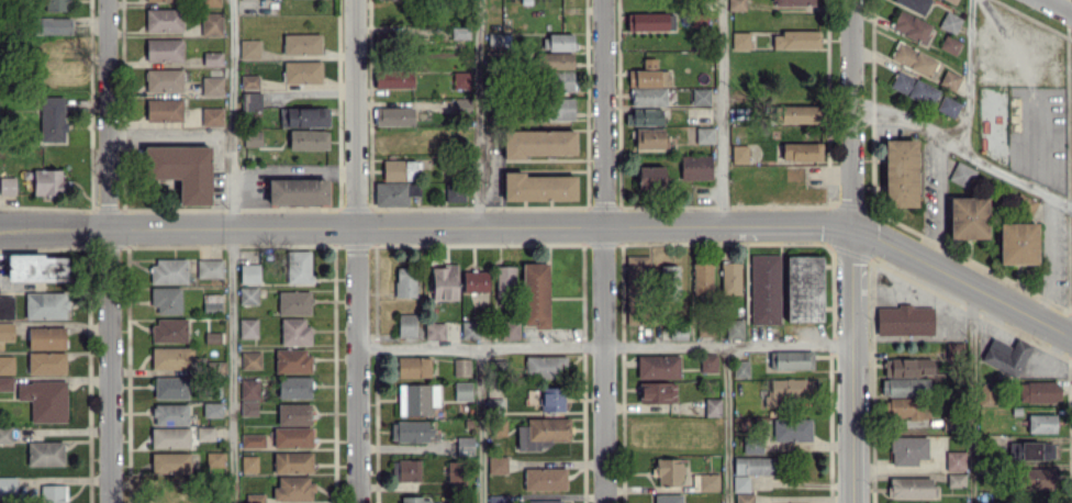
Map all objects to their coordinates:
road: (1058, 7)
road: (970, 75)
road: (480, 113)
road: (724, 113)
road: (852, 114)
road: (169, 135)
road: (962, 150)
road: (378, 227)
road: (804, 228)
road: (604, 250)
road: (109, 251)
road: (231, 251)
road: (355, 251)
road: (962, 282)
road: (604, 347)
road: (853, 366)
road: (974, 395)
road: (481, 425)
road: (727, 425)

